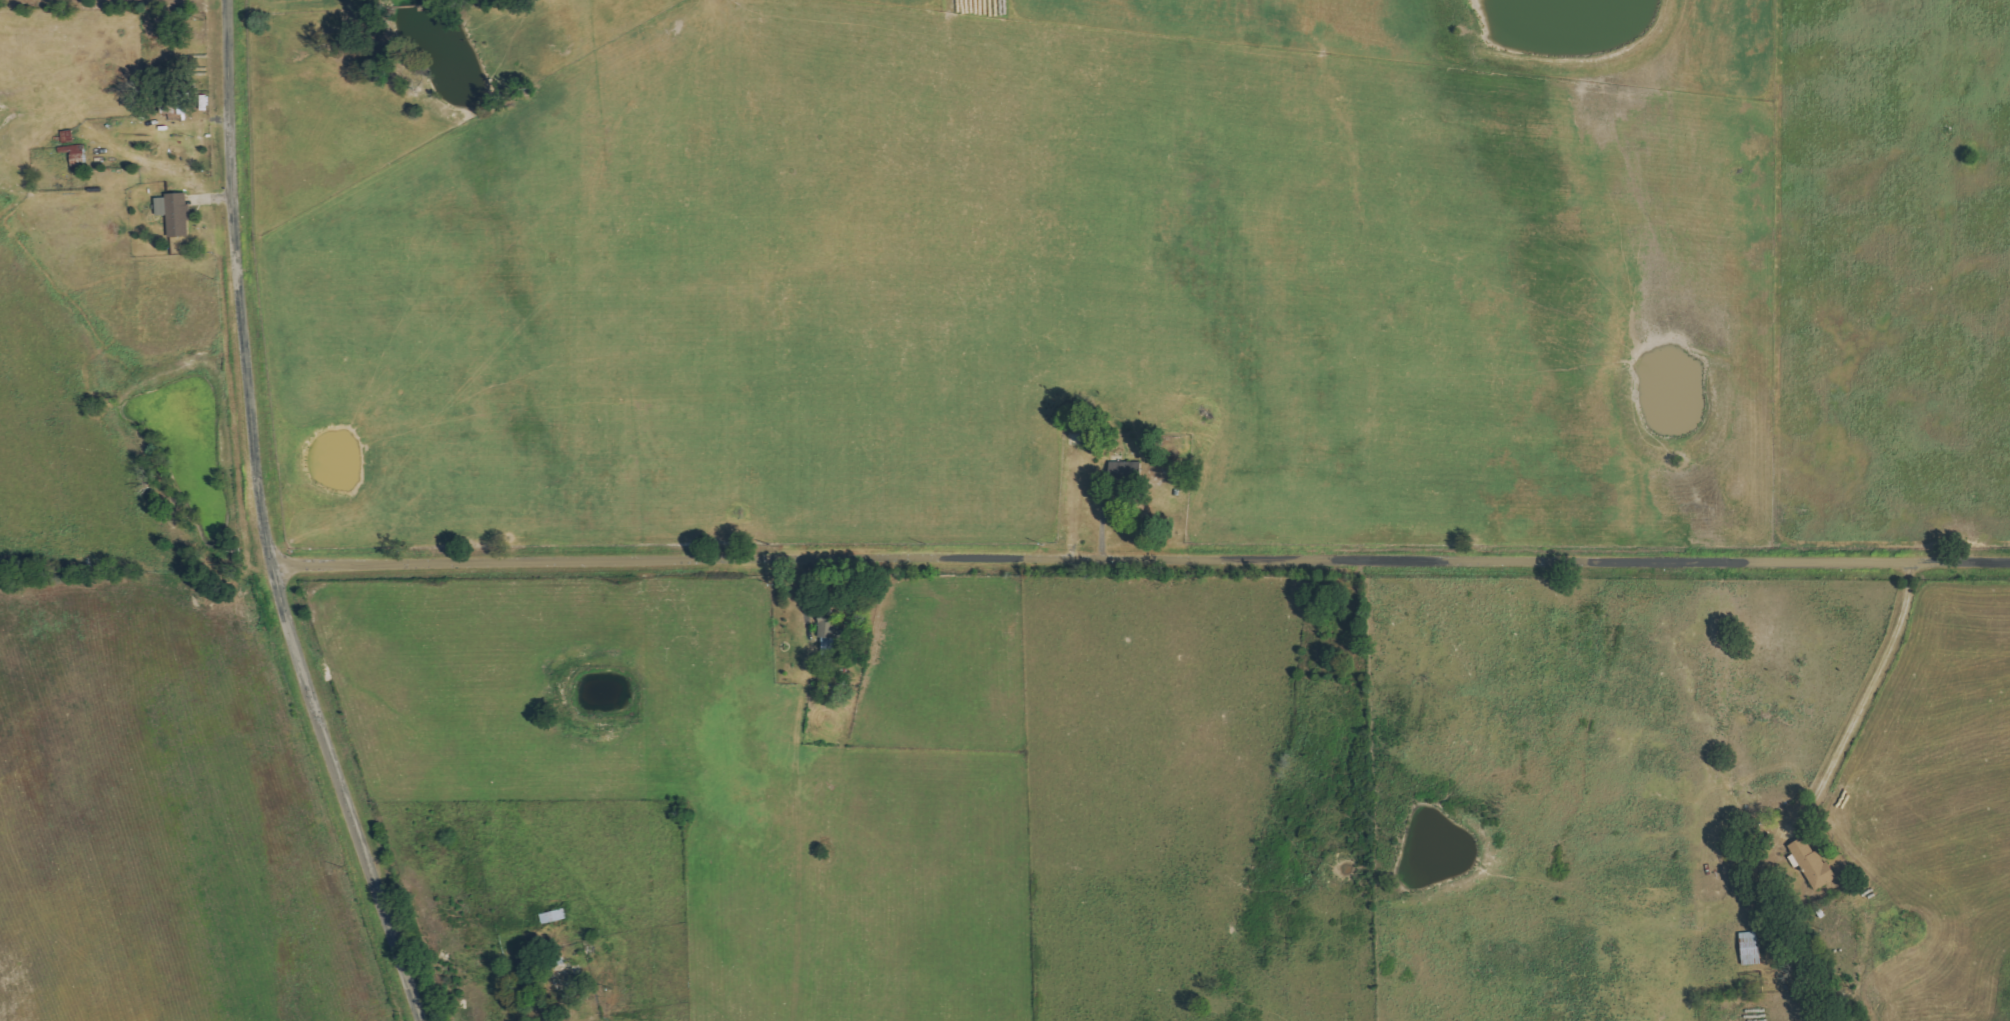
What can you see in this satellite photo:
building: (176, 213)
road: (1852, 278)
building: (1181, 477)
road: (266, 520)
road: (1140, 554)
building: (832, 636)
road: (1867, 697)
building: (1816, 864)
road: (589, 1017)

